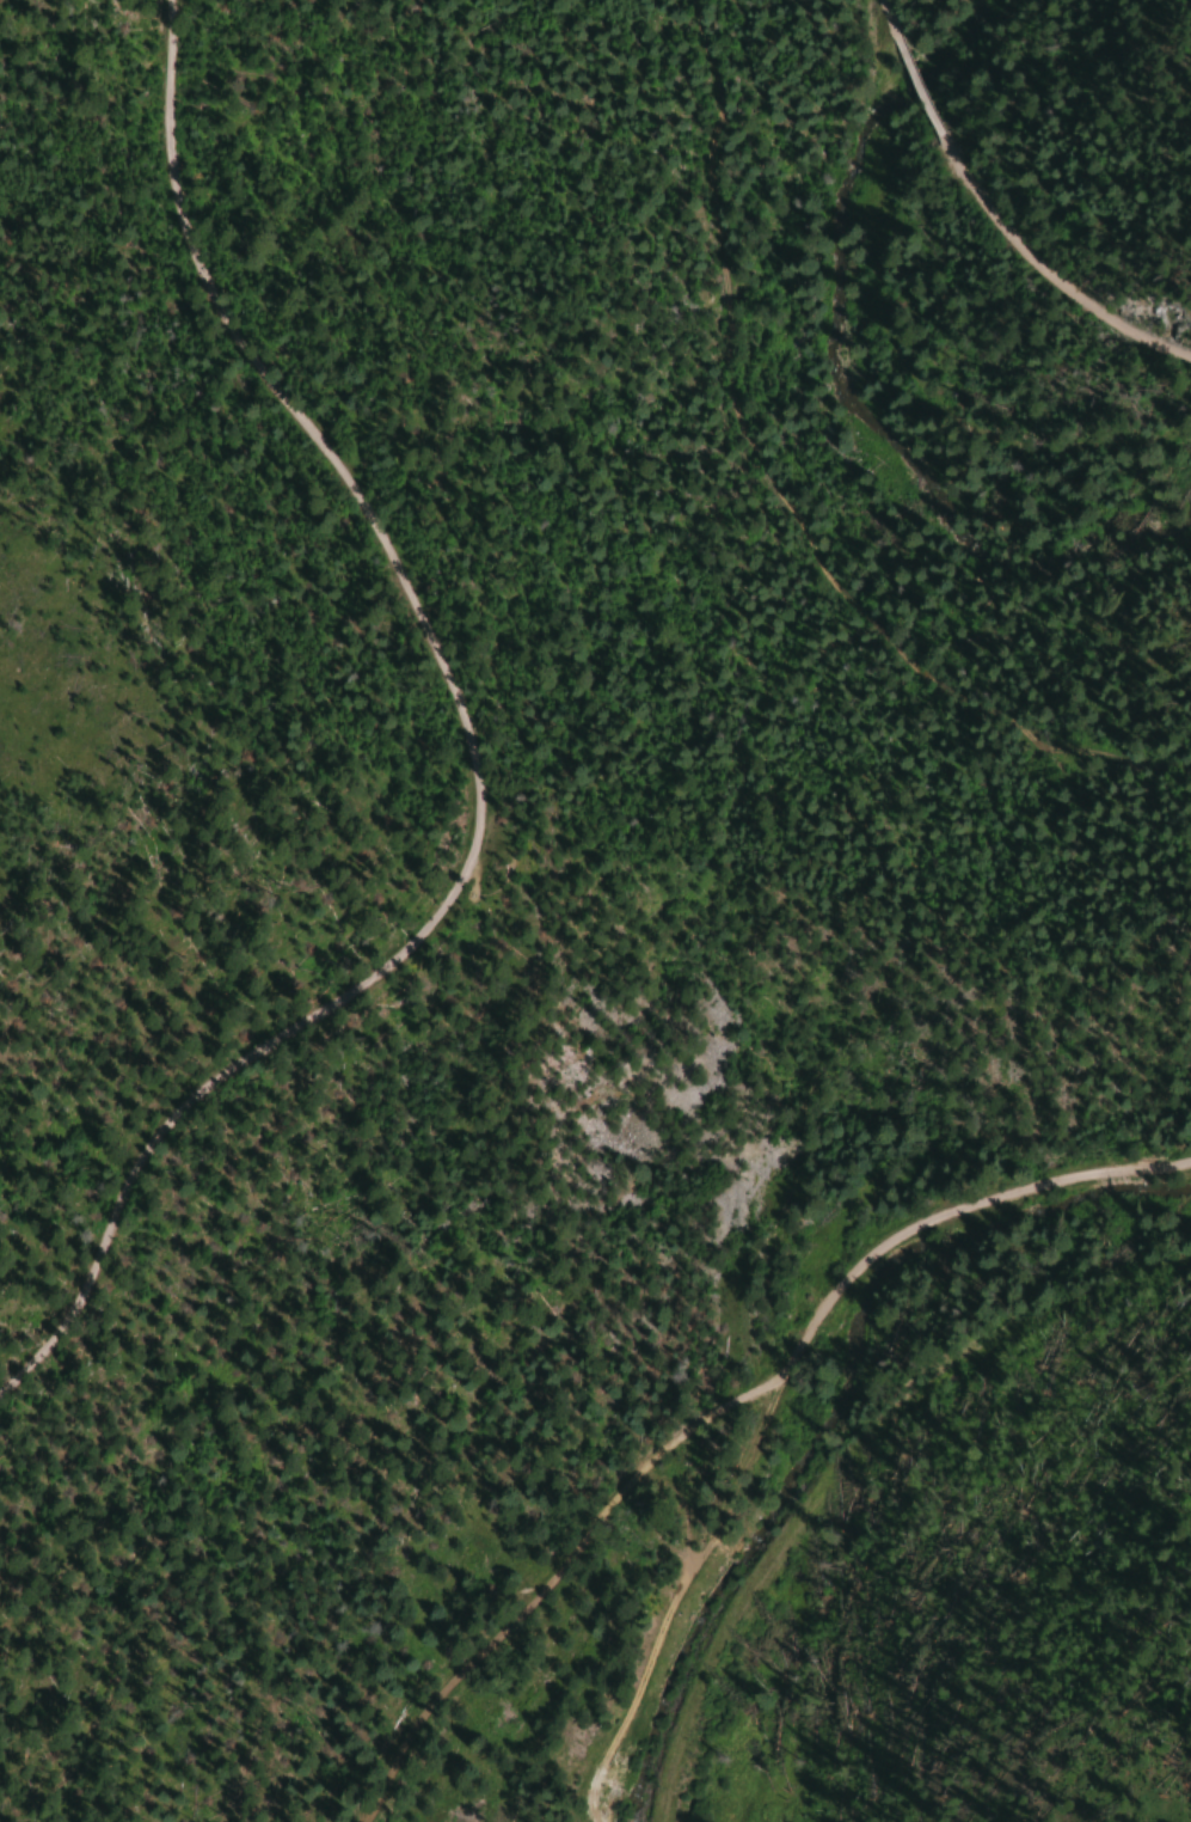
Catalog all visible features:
road: (882, 17)
road: (916, 88)
road: (1050, 268)
road: (469, 751)
road: (724, 1410)
road: (676, 1594)

